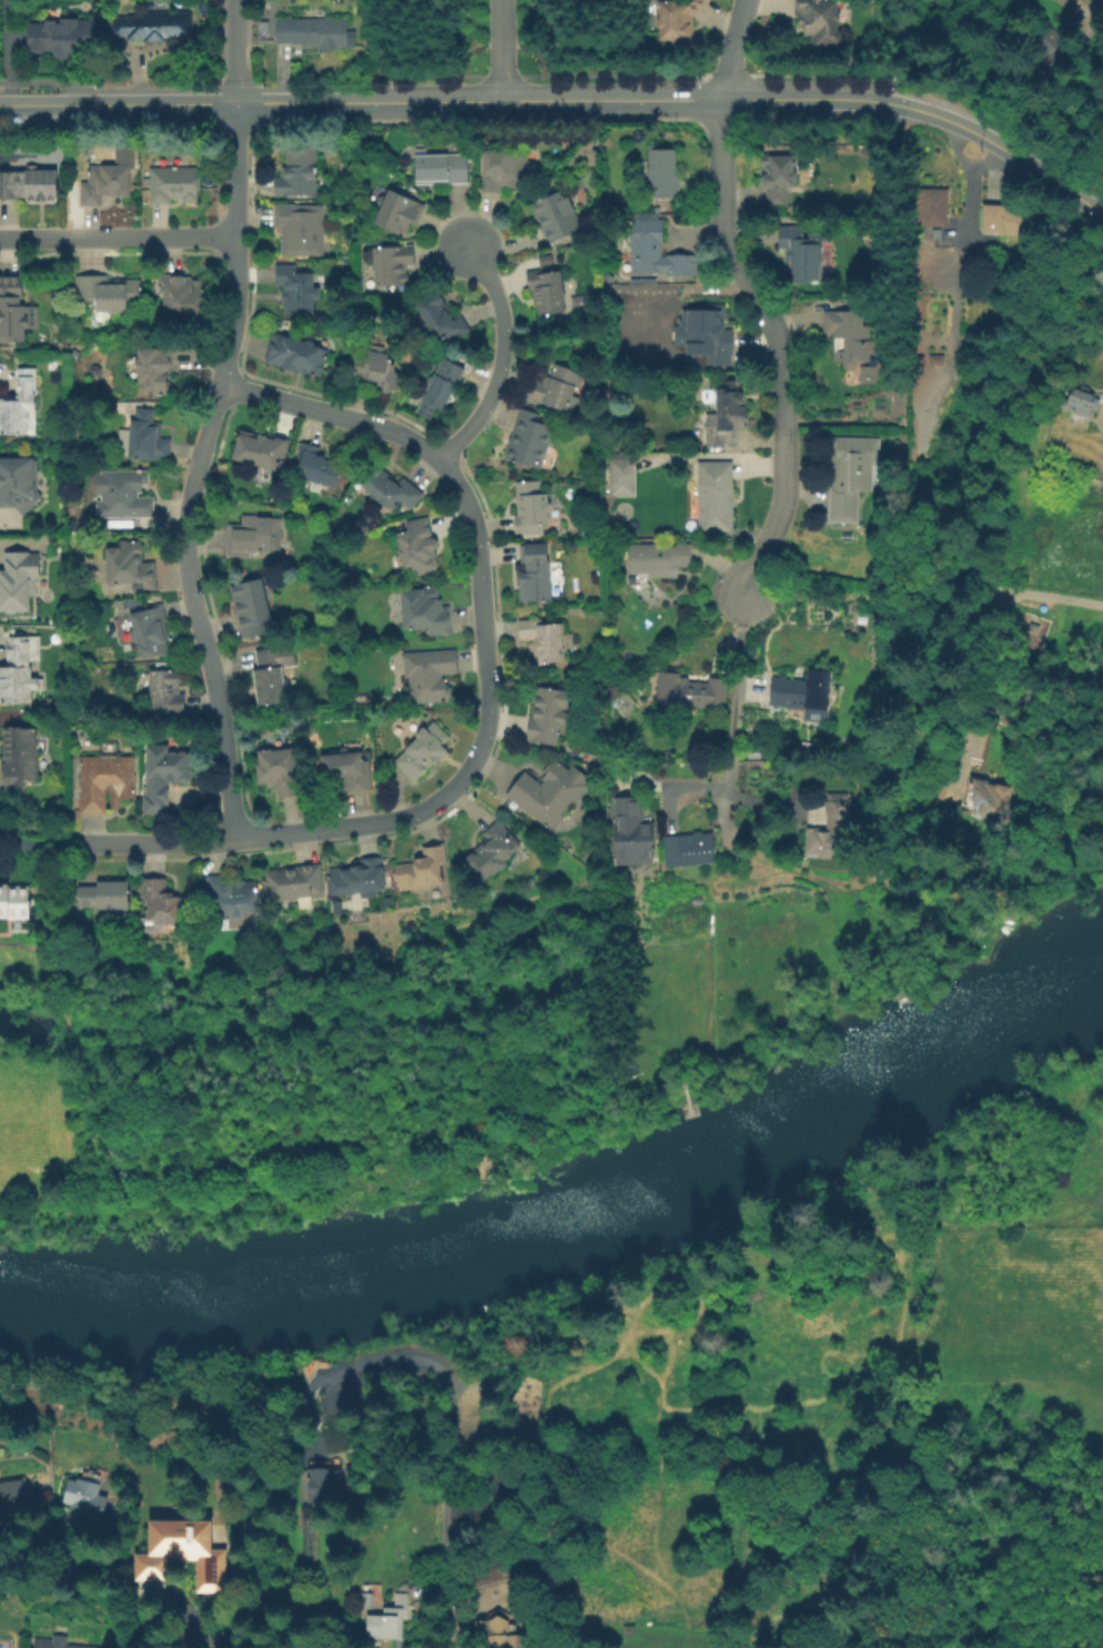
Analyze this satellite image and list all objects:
road: (1082, 13)
building: (818, 21)
building: (678, 22)
building: (153, 27)
building: (312, 31)
building: (61, 39)
building: (1039, 42)
road: (731, 49)
road: (499, 50)
road: (3, 51)
road: (231, 51)
road: (988, 64)
road: (649, 99)
road: (182, 102)
road: (1020, 161)
building: (439, 168)
road: (234, 169)
building: (503, 170)
building: (297, 172)
building: (662, 173)
building: (776, 178)
building: (105, 183)
building: (173, 184)
building: (28, 188)
building: (934, 206)
building: (398, 212)
building: (556, 216)
building: (1005, 220)
building: (300, 229)
road: (118, 237)
building: (800, 249)
building: (657, 252)
building: (969, 255)
building: (544, 259)
building: (391, 266)
building: (296, 290)
building: (546, 291)
building: (100, 295)
building: (182, 296)
building: (575, 303)
building: (11, 312)
building: (441, 319)
building: (848, 336)
building: (708, 337)
road: (777, 346)
building: (296, 355)
building: (938, 360)
road: (502, 361)
building: (155, 367)
building: (376, 368)
building: (864, 373)
building: (443, 383)
building: (557, 388)
building: (1079, 403)
building: (18, 408)
building: (727, 413)
building: (144, 437)
building: (529, 439)
building: (262, 448)
building: (316, 466)
building: (850, 476)
building: (621, 477)
building: (666, 482)
building: (18, 486)
building: (389, 487)
building: (125, 496)
building: (714, 496)
building: (530, 508)
building: (618, 527)
road: (183, 536)
building: (250, 536)
building: (417, 546)
building: (79, 550)
building: (658, 558)
building: (130, 565)
building: (536, 576)
building: (17, 585)
road: (1029, 596)
building: (128, 604)
building: (252, 606)
building: (425, 610)
building: (150, 630)
building: (544, 639)
building: (1030, 643)
building: (20, 674)
building: (429, 674)
building: (270, 675)
building: (689, 691)
building: (801, 691)
building: (165, 692)
road: (736, 695)
building: (614, 696)
road: (487, 705)
building: (549, 715)
building: (423, 751)
building: (751, 755)
building: (18, 761)
building: (347, 768)
building: (280, 770)
building: (164, 776)
building: (105, 781)
building: (549, 792)
building: (990, 799)
building: (830, 832)
building: (630, 833)
road: (33, 845)
building: (685, 848)
building: (492, 850)
building: (423, 869)
building: (358, 878)
building: (293, 882)
building: (530, 882)
building: (105, 896)
building: (233, 896)
building: (163, 903)
building: (14, 907)
building: (224, 926)
river: (1051, 997)
park: (350, 1069)
river: (519, 1237)
road: (428, 1362)
building: (324, 1482)
building: (11, 1495)
building: (84, 1500)
building: (178, 1543)
road: (447, 1578)
building: (367, 1600)
building: (388, 1619)
building: (628, 1630)
building: (497, 1635)
building: (54, 1642)

